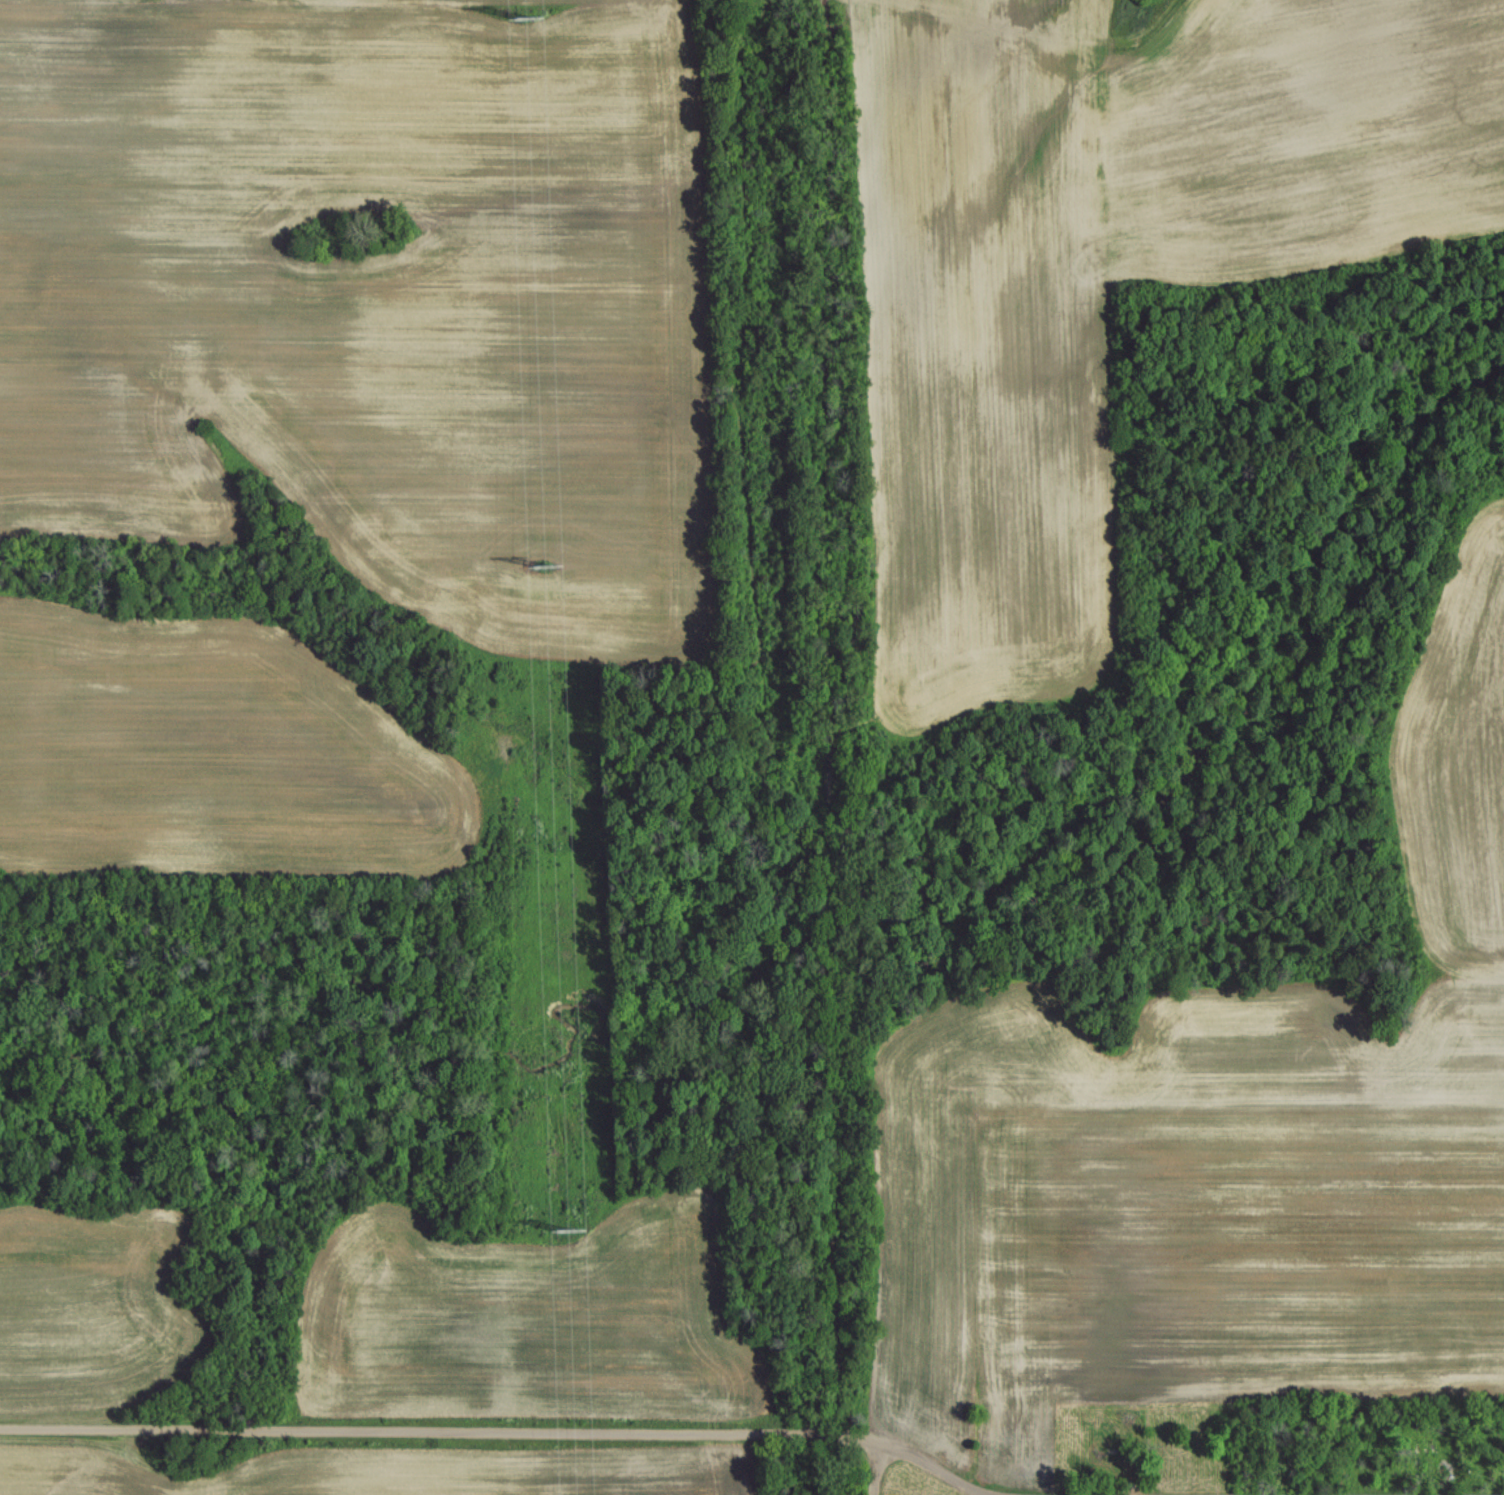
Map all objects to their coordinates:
power tower: (531, 15)
power tower: (550, 565)
power tower: (576, 1229)
road: (491, 1430)
road: (875, 1473)

